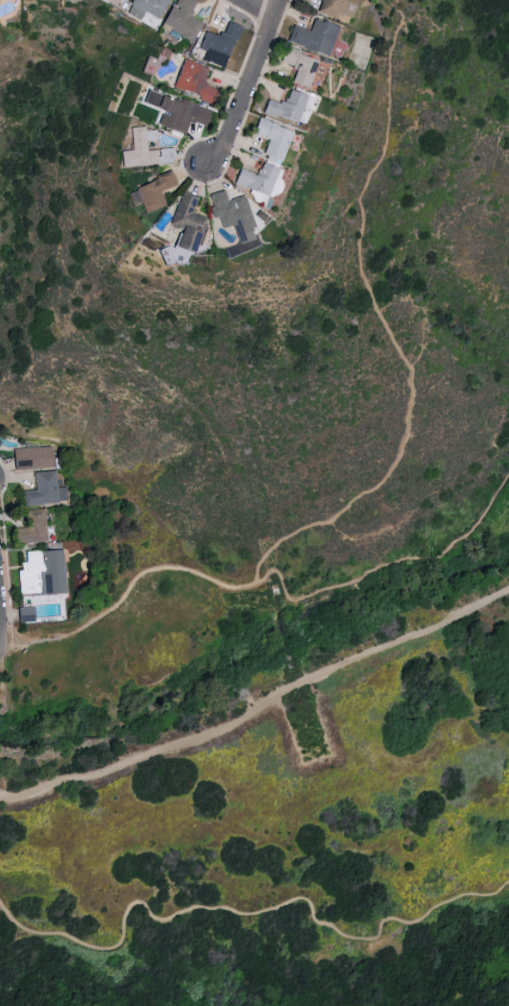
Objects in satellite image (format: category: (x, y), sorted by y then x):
building: (104, 0)
building: (121, 0)
building: (146, 7)
building: (336, 8)
road: (253, 9)
building: (181, 19)
building: (313, 36)
building: (218, 44)
building: (300, 65)
building: (191, 79)
road: (245, 83)
road: (386, 103)
building: (286, 106)
building: (177, 112)
building: (272, 139)
building: (143, 149)
building: (260, 183)
building: (153, 191)
building: (232, 213)
building: (187, 222)
road: (309, 287)
road: (407, 301)
road: (406, 422)
building: (33, 458)
building: (44, 490)
road: (424, 497)
building: (30, 528)
building: (39, 579)
park: (267, 580)
road: (267, 584)
road: (0, 639)
road: (0, 645)
road: (0, 645)
road: (257, 703)
road: (252, 912)

